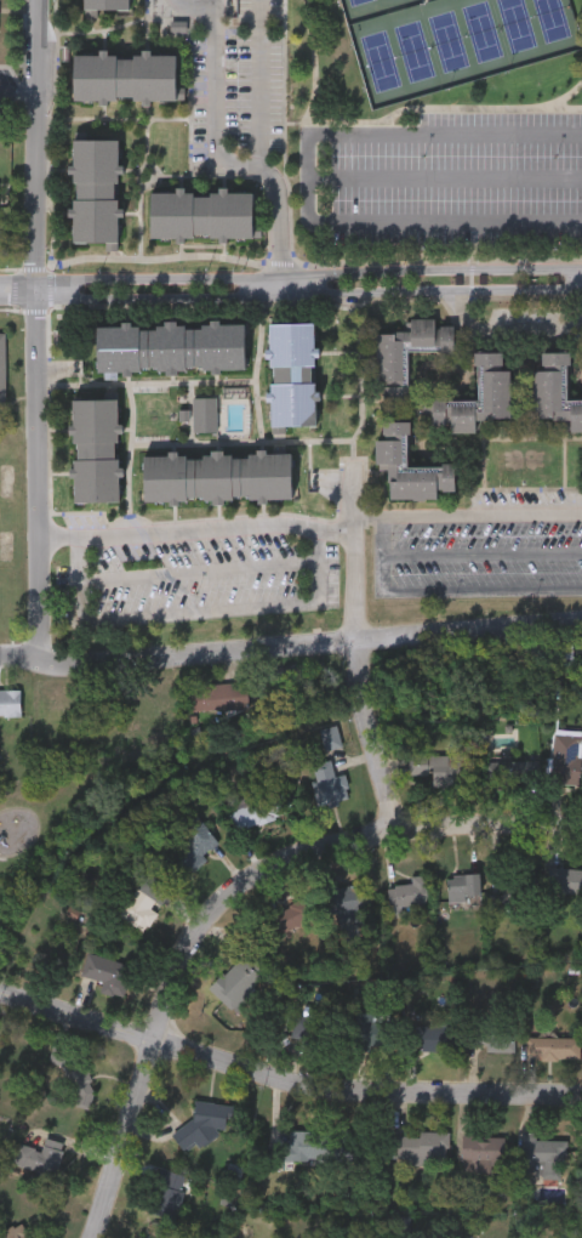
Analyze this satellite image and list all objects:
road: (194, 2)
park: (398, 4)
building: (107, 6)
park: (364, 8)
park: (554, 24)
park: (519, 29)
road: (103, 32)
park: (484, 34)
park: (335, 36)
park: (449, 39)
park: (413, 49)
park: (380, 58)
road: (58, 59)
parking lot: (234, 72)
building: (125, 80)
road: (17, 85)
park: (473, 85)
road: (216, 100)
road: (170, 119)
road: (285, 124)
road: (446, 131)
road: (34, 148)
road: (262, 151)
building: (96, 170)
road: (131, 171)
road: (159, 177)
road: (253, 177)
road: (446, 177)
road: (310, 178)
parking lot: (445, 178)
road: (182, 186)
road: (223, 186)
road: (130, 216)
building: (200, 217)
road: (446, 223)
building: (96, 225)
road: (142, 226)
road: (52, 252)
road: (86, 260)
road: (291, 274)
road: (581, 277)
road: (292, 297)
road: (420, 297)
road: (261, 323)
building: (169, 345)
building: (411, 347)
building: (2, 364)
building: (290, 374)
building: (492, 381)
building: (555, 390)
road: (361, 392)
road: (256, 409)
road: (133, 415)
building: (206, 415)
building: (184, 416)
building: (236, 418)
road: (523, 439)
road: (306, 442)
building: (93, 447)
building: (389, 449)
road: (310, 466)
building: (215, 473)
road: (36, 478)
parking lot: (526, 498)
road: (484, 515)
road: (371, 516)
parking lot: (86, 521)
road: (58, 538)
road: (484, 556)
parking lot: (478, 557)
road: (355, 558)
road: (200, 572)
parking lot: (201, 572)
road: (447, 587)
road: (81, 594)
road: (468, 630)
road: (176, 654)
building: (555, 654)
building: (223, 697)
building: (8, 702)
road: (372, 734)
building: (331, 737)
building: (567, 760)
building: (440, 770)
building: (513, 771)
building: (330, 783)
building: (262, 807)
park: (35, 827)
building: (195, 845)
building: (565, 879)
building: (462, 886)
building: (518, 890)
building: (411, 891)
road: (224, 895)
building: (350, 898)
building: (144, 903)
building: (291, 916)
building: (105, 970)
building: (242, 975)
building: (306, 1023)
building: (372, 1029)
building: (433, 1037)
building: (500, 1038)
building: (555, 1047)
road: (285, 1073)
building: (72, 1077)
building: (204, 1124)
building: (310, 1145)
building: (424, 1146)
building: (542, 1151)
building: (484, 1152)
building: (41, 1158)
building: (172, 1192)
building: (15, 1231)
building: (143, 1237)

